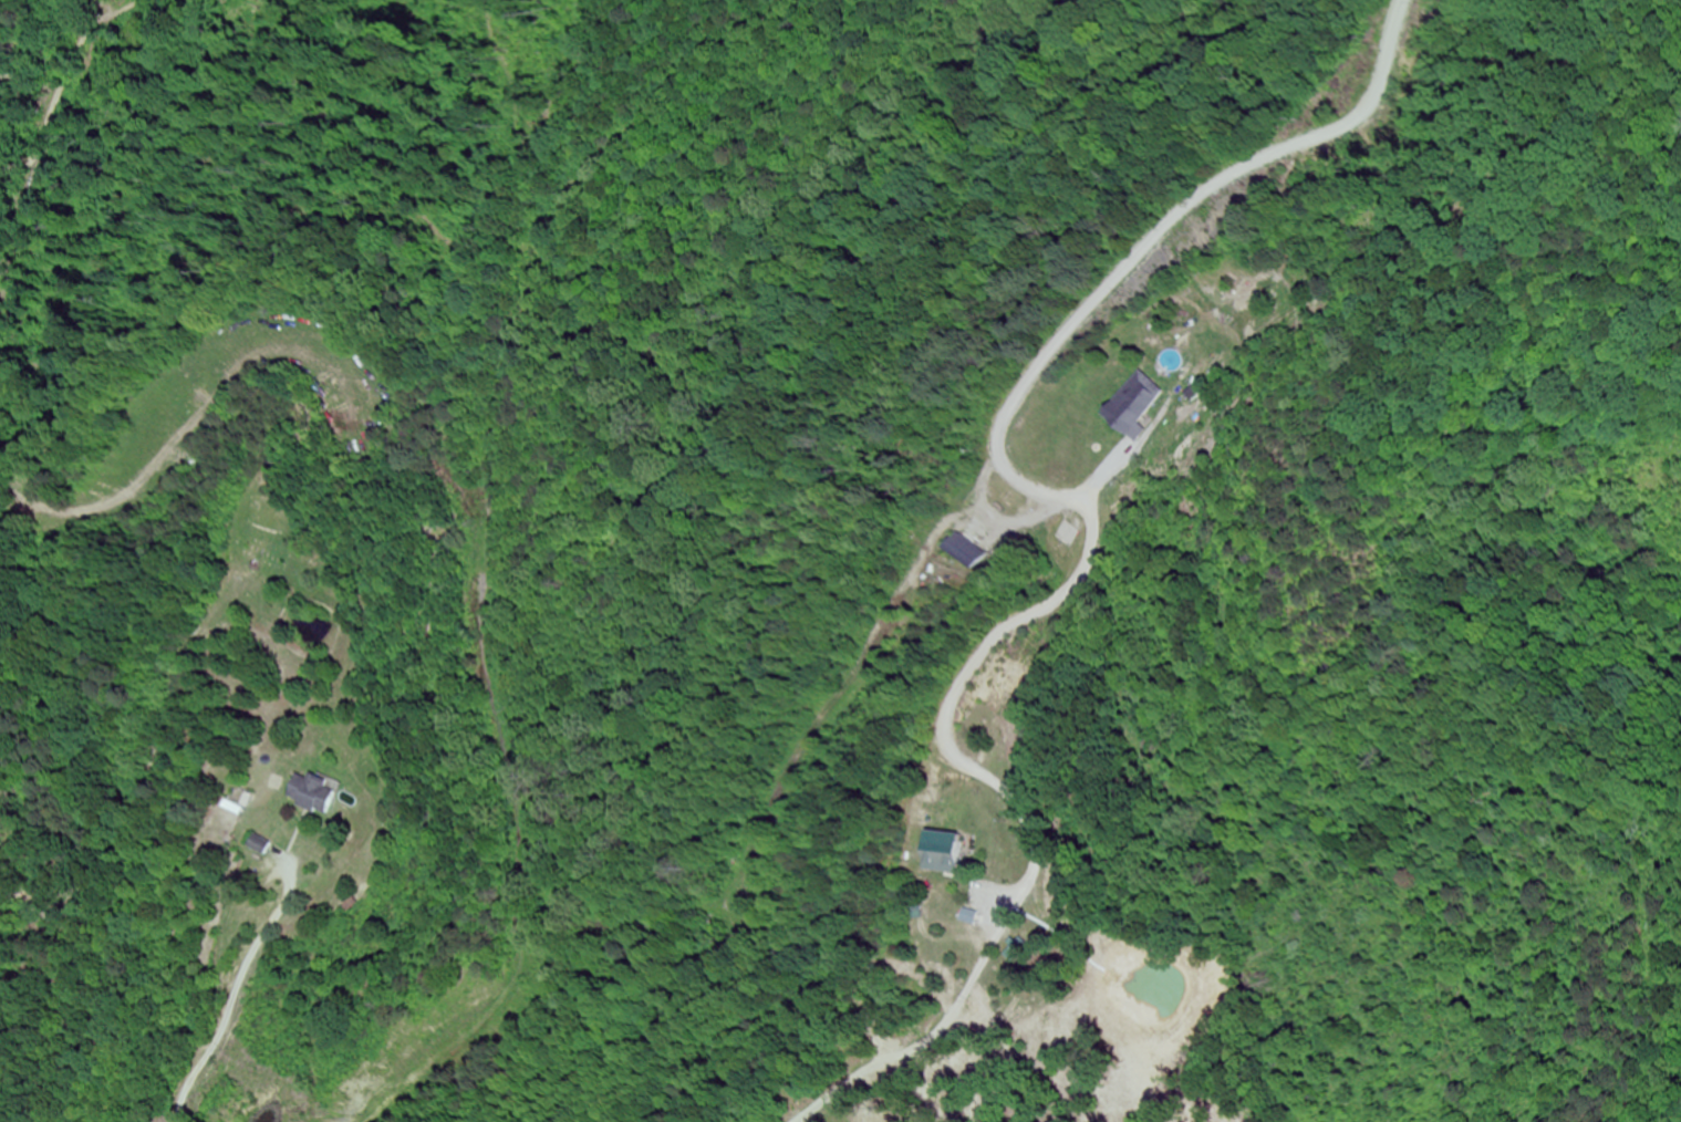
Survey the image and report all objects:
road: (1526, 543)
building: (955, 552)
building: (309, 792)
building: (256, 845)
building: (940, 852)
building: (966, 917)
road: (240, 993)

